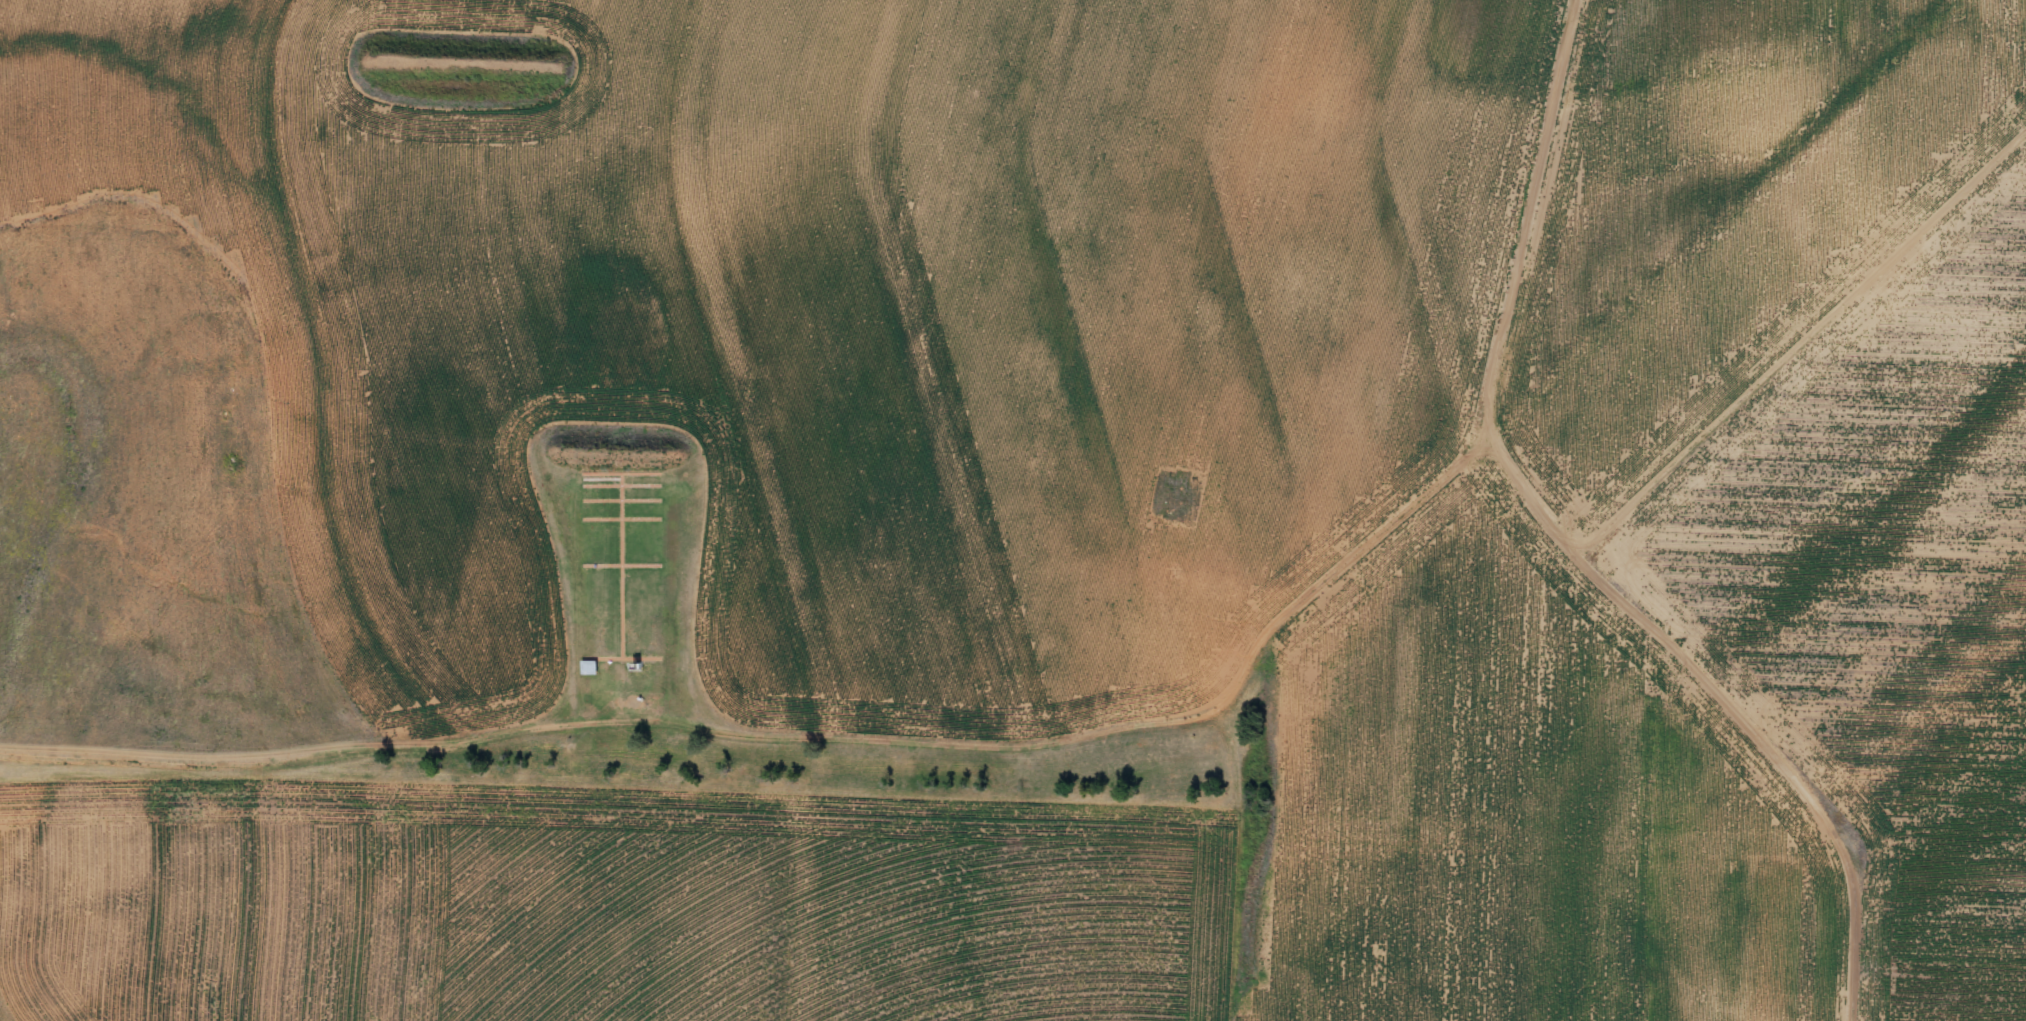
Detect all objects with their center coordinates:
airport: (1777, 537)
building: (589, 668)

